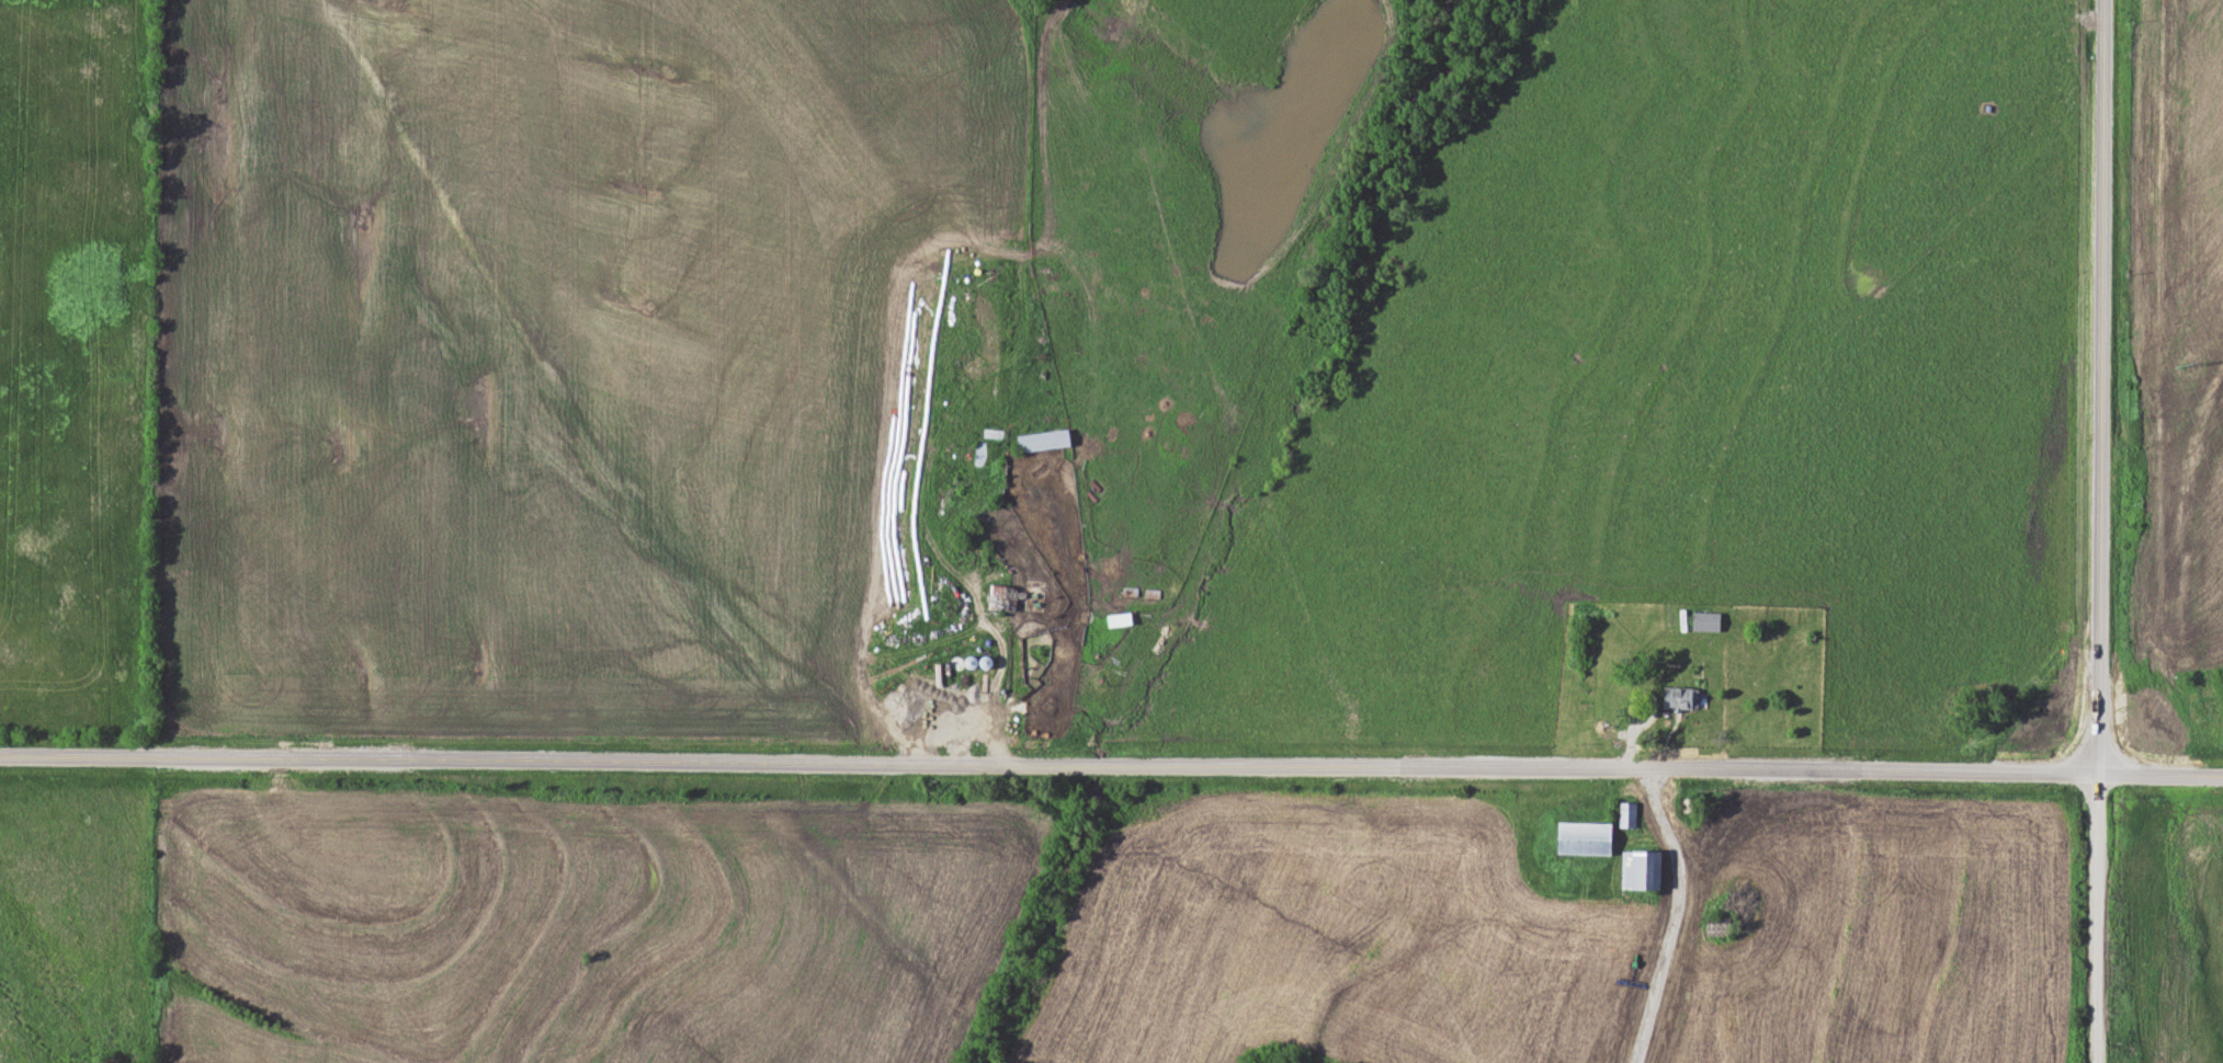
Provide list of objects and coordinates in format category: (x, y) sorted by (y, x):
road: (2099, 385)
building: (1046, 439)
building: (978, 454)
building: (1002, 594)
building: (1709, 620)
building: (1682, 697)
road: (1111, 762)
building: (1629, 814)
building: (1588, 837)
road: (2096, 916)

